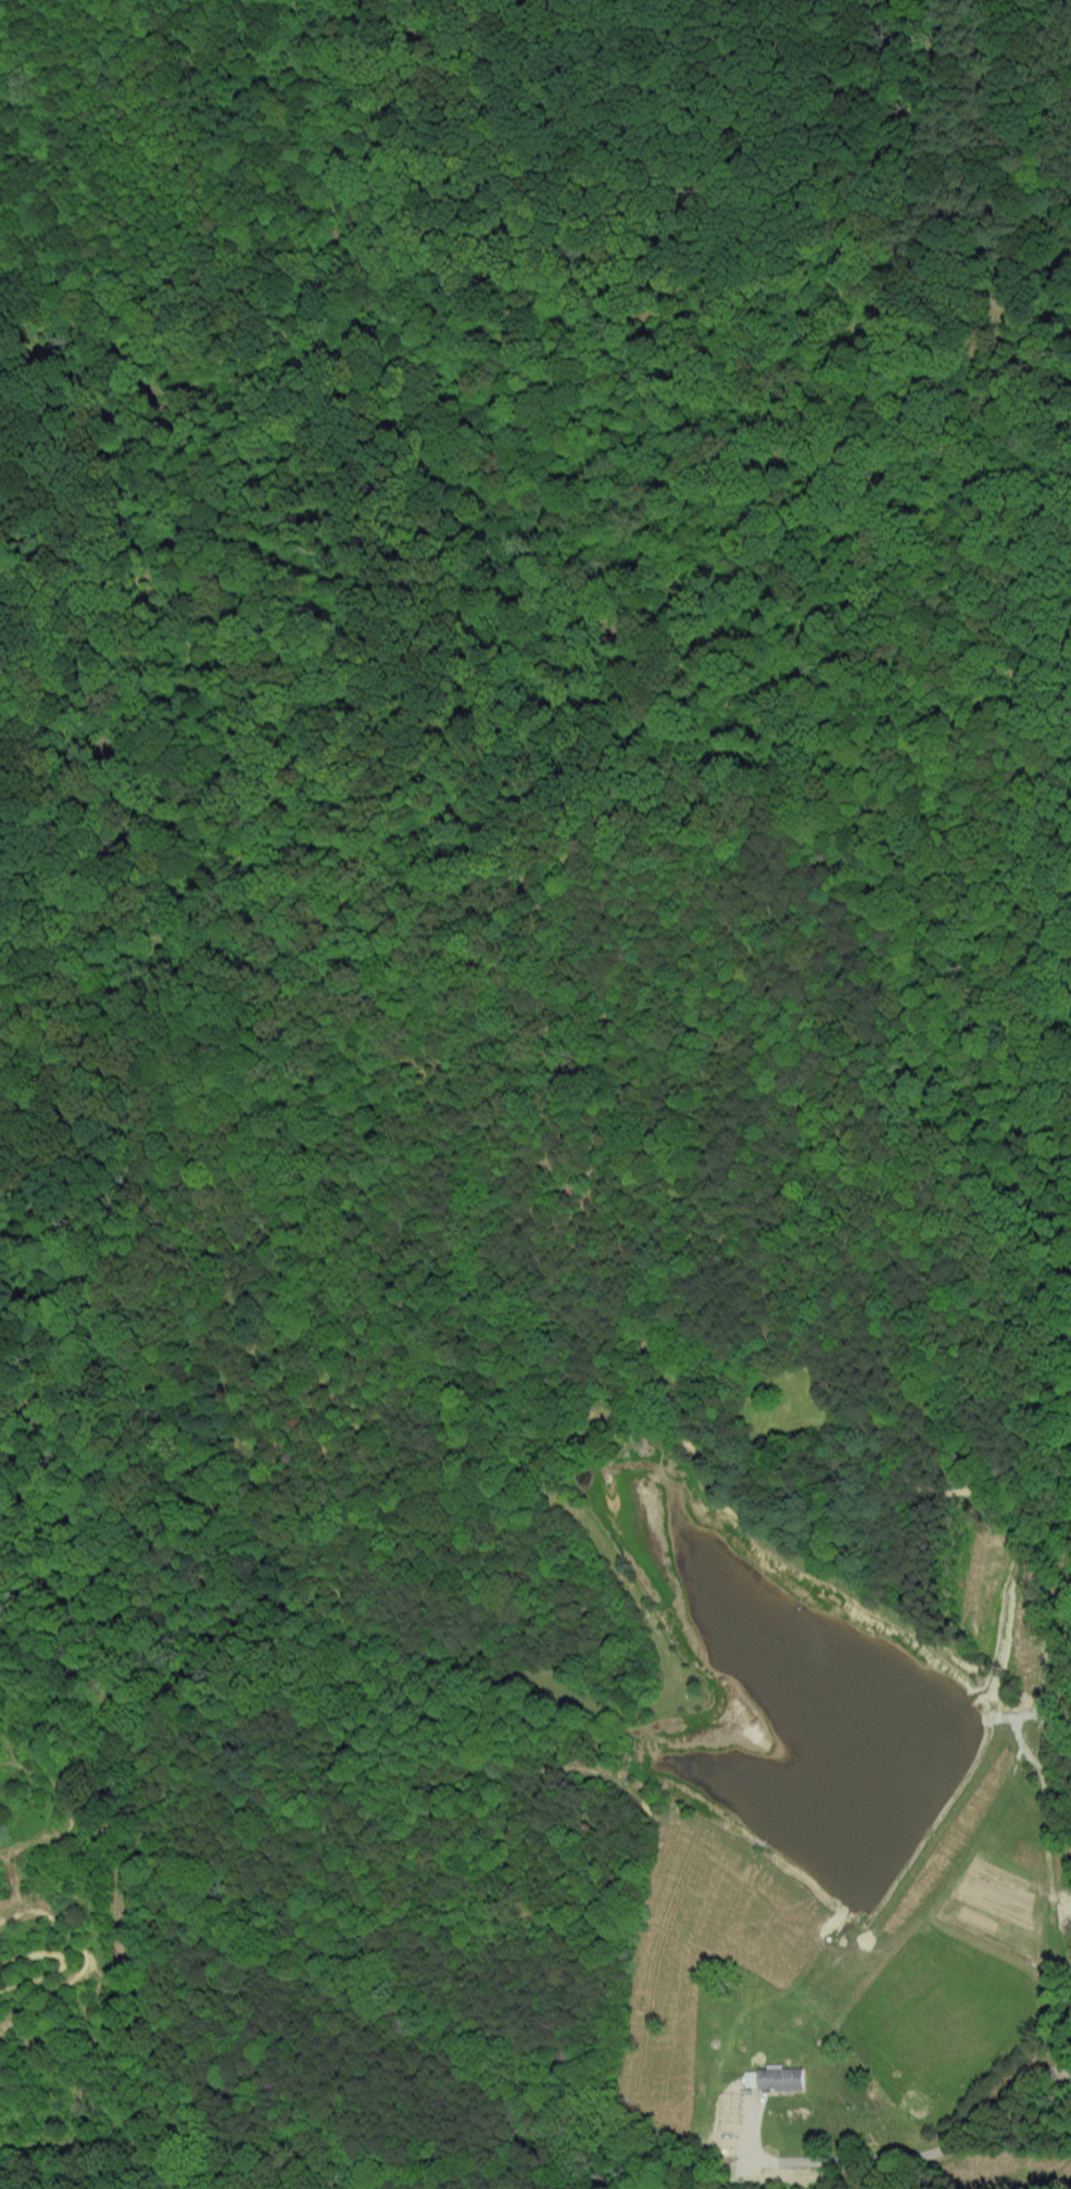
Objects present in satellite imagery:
building: (773, 2075)
road: (895, 2171)

